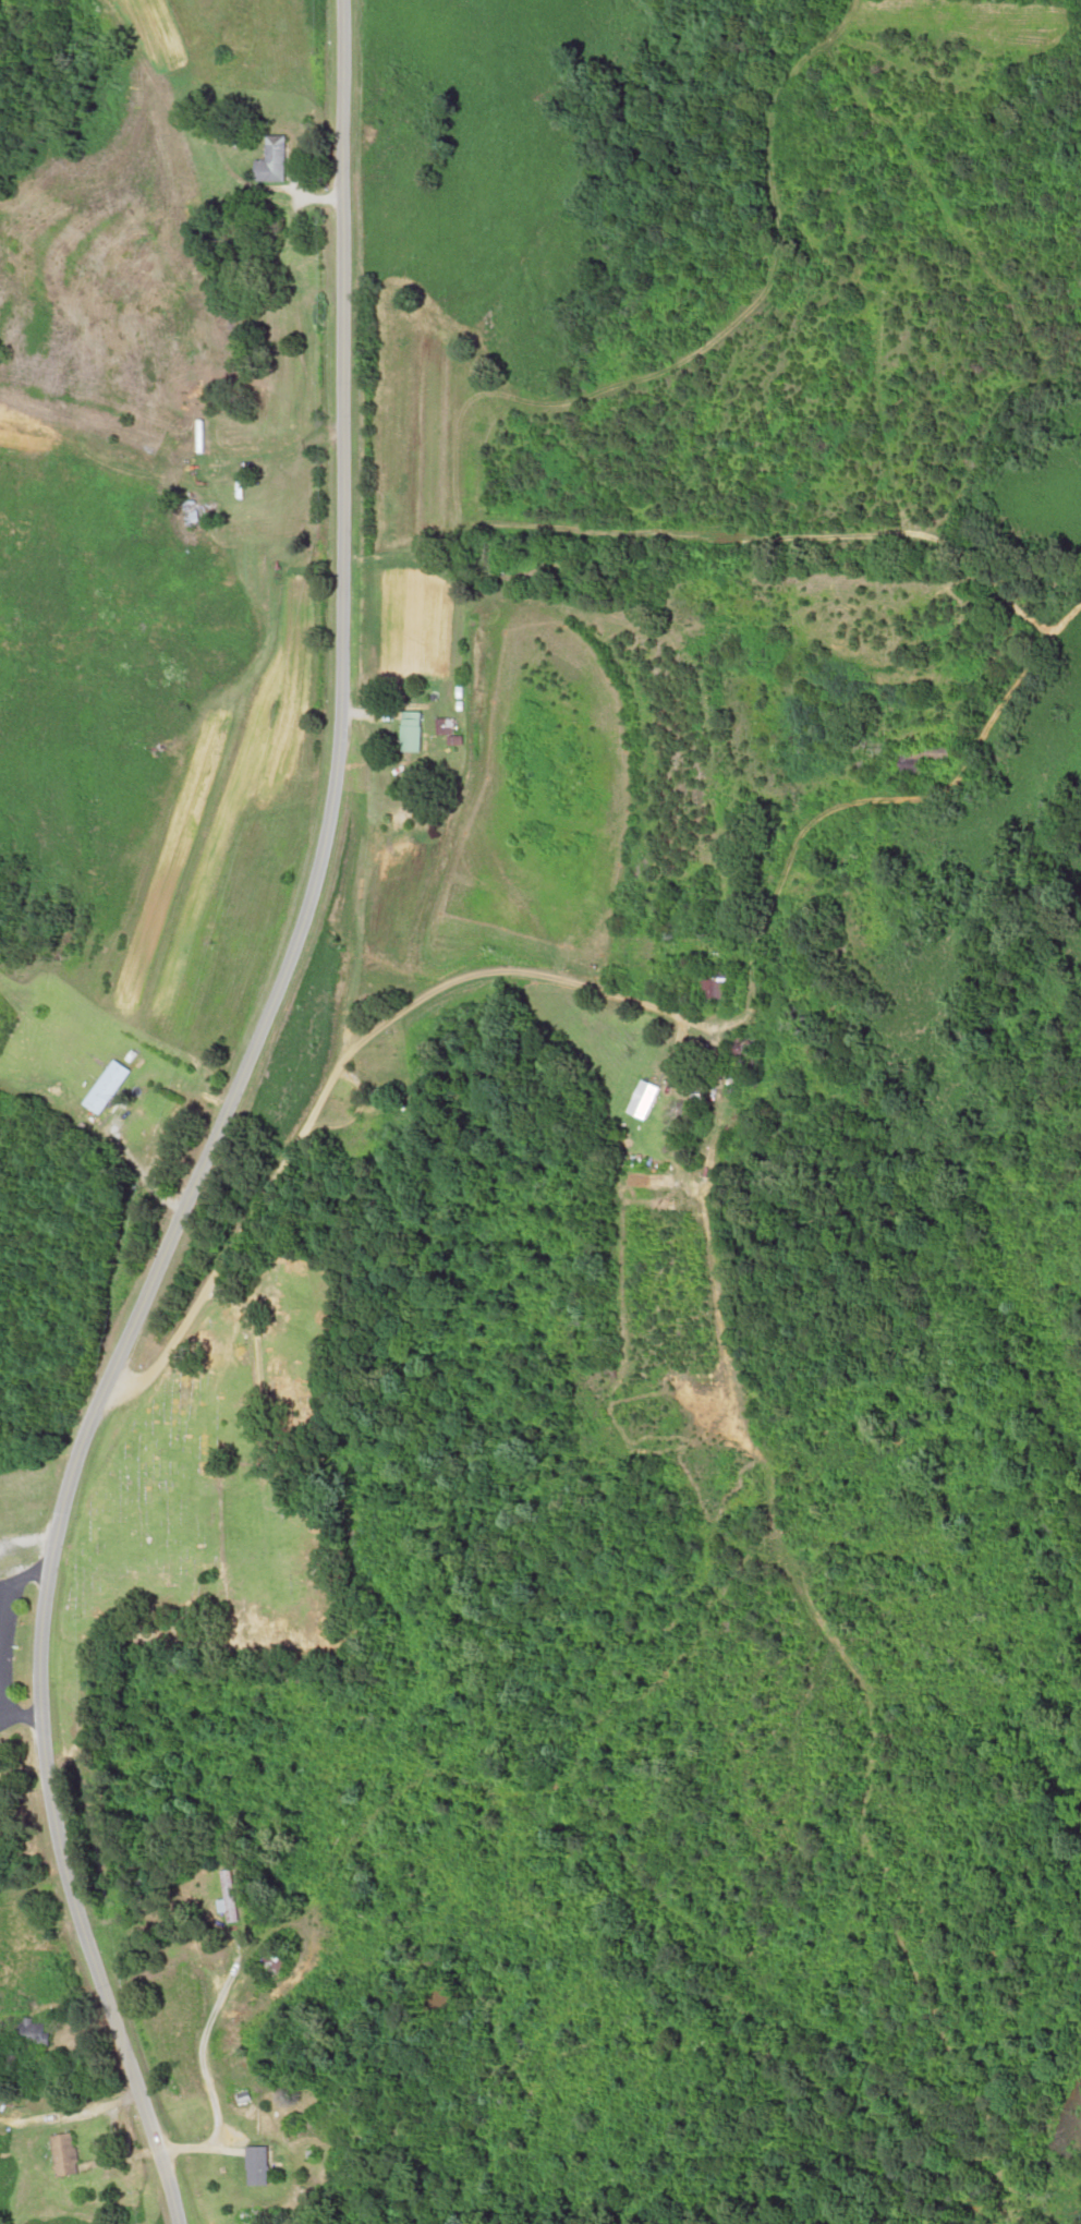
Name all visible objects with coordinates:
building: (279, 159)
road: (126, 251)
building: (417, 730)
building: (930, 756)
road: (291, 799)
building: (753, 1047)
road: (338, 1086)
building: (112, 1087)
building: (391, 1091)
building: (653, 1099)
building: (242, 1896)
road: (45, 1967)
building: (46, 2031)
road: (35, 2074)
building: (74, 2151)
building: (274, 2164)

